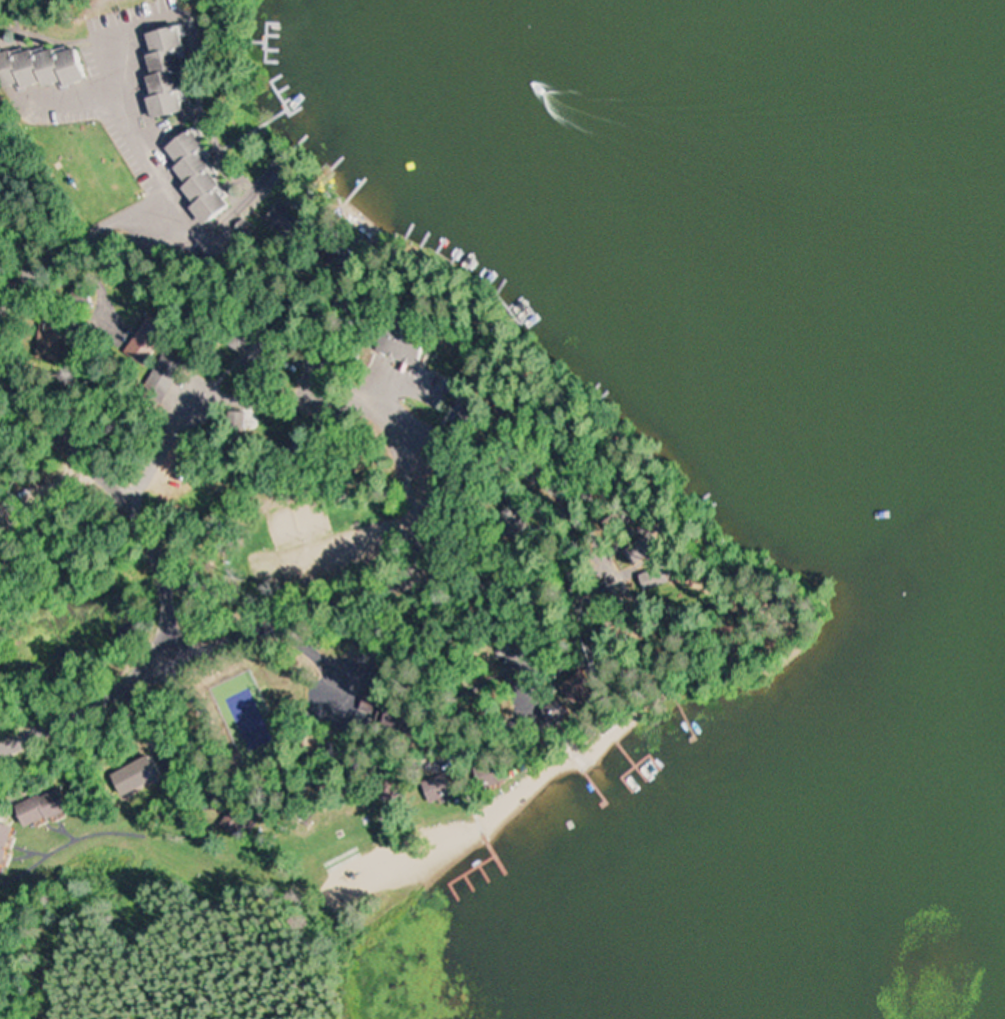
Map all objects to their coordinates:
building: (38, 67)
building: (160, 73)
building: (191, 178)
road: (190, 281)
building: (239, 339)
building: (142, 346)
building: (161, 378)
building: (234, 421)
road: (123, 493)
road: (376, 591)
road: (84, 703)
building: (132, 776)
building: (53, 807)
building: (8, 844)

